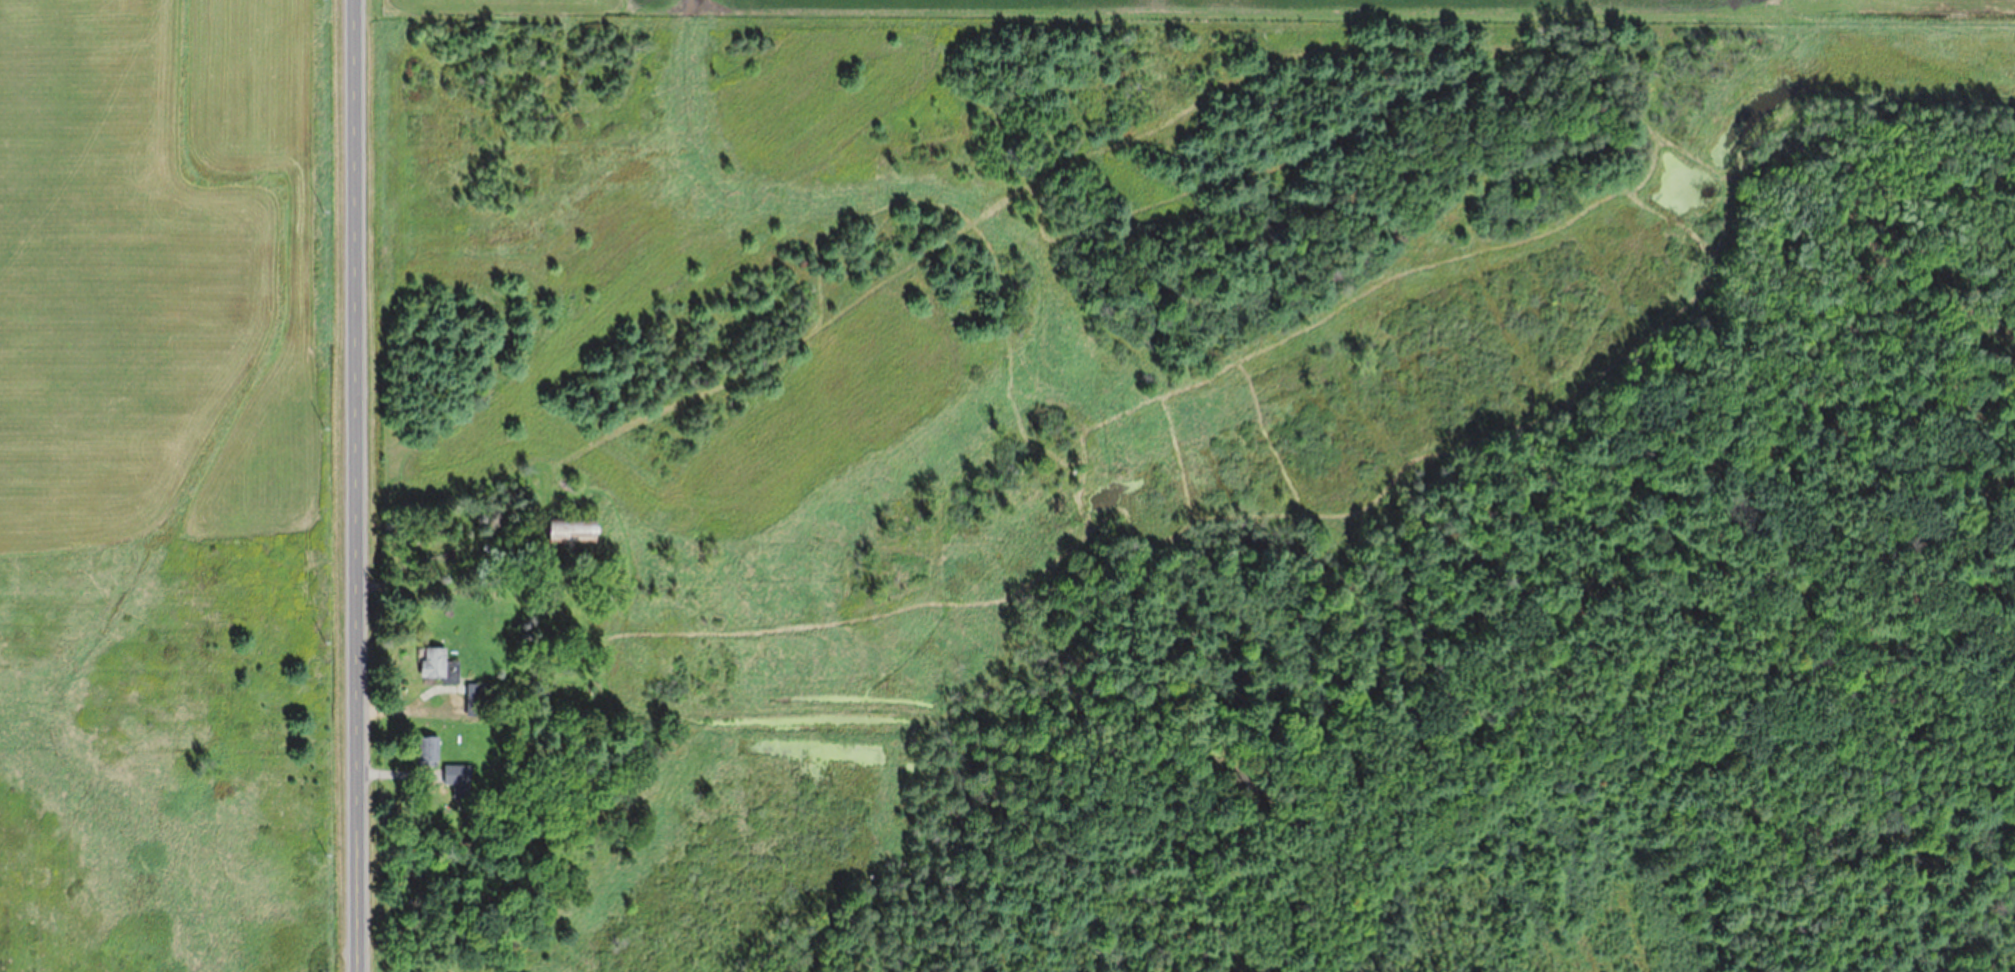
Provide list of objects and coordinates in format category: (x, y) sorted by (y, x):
road: (360, 486)
building: (566, 528)
building: (434, 664)
building: (474, 698)
building: (424, 750)
building: (453, 773)

